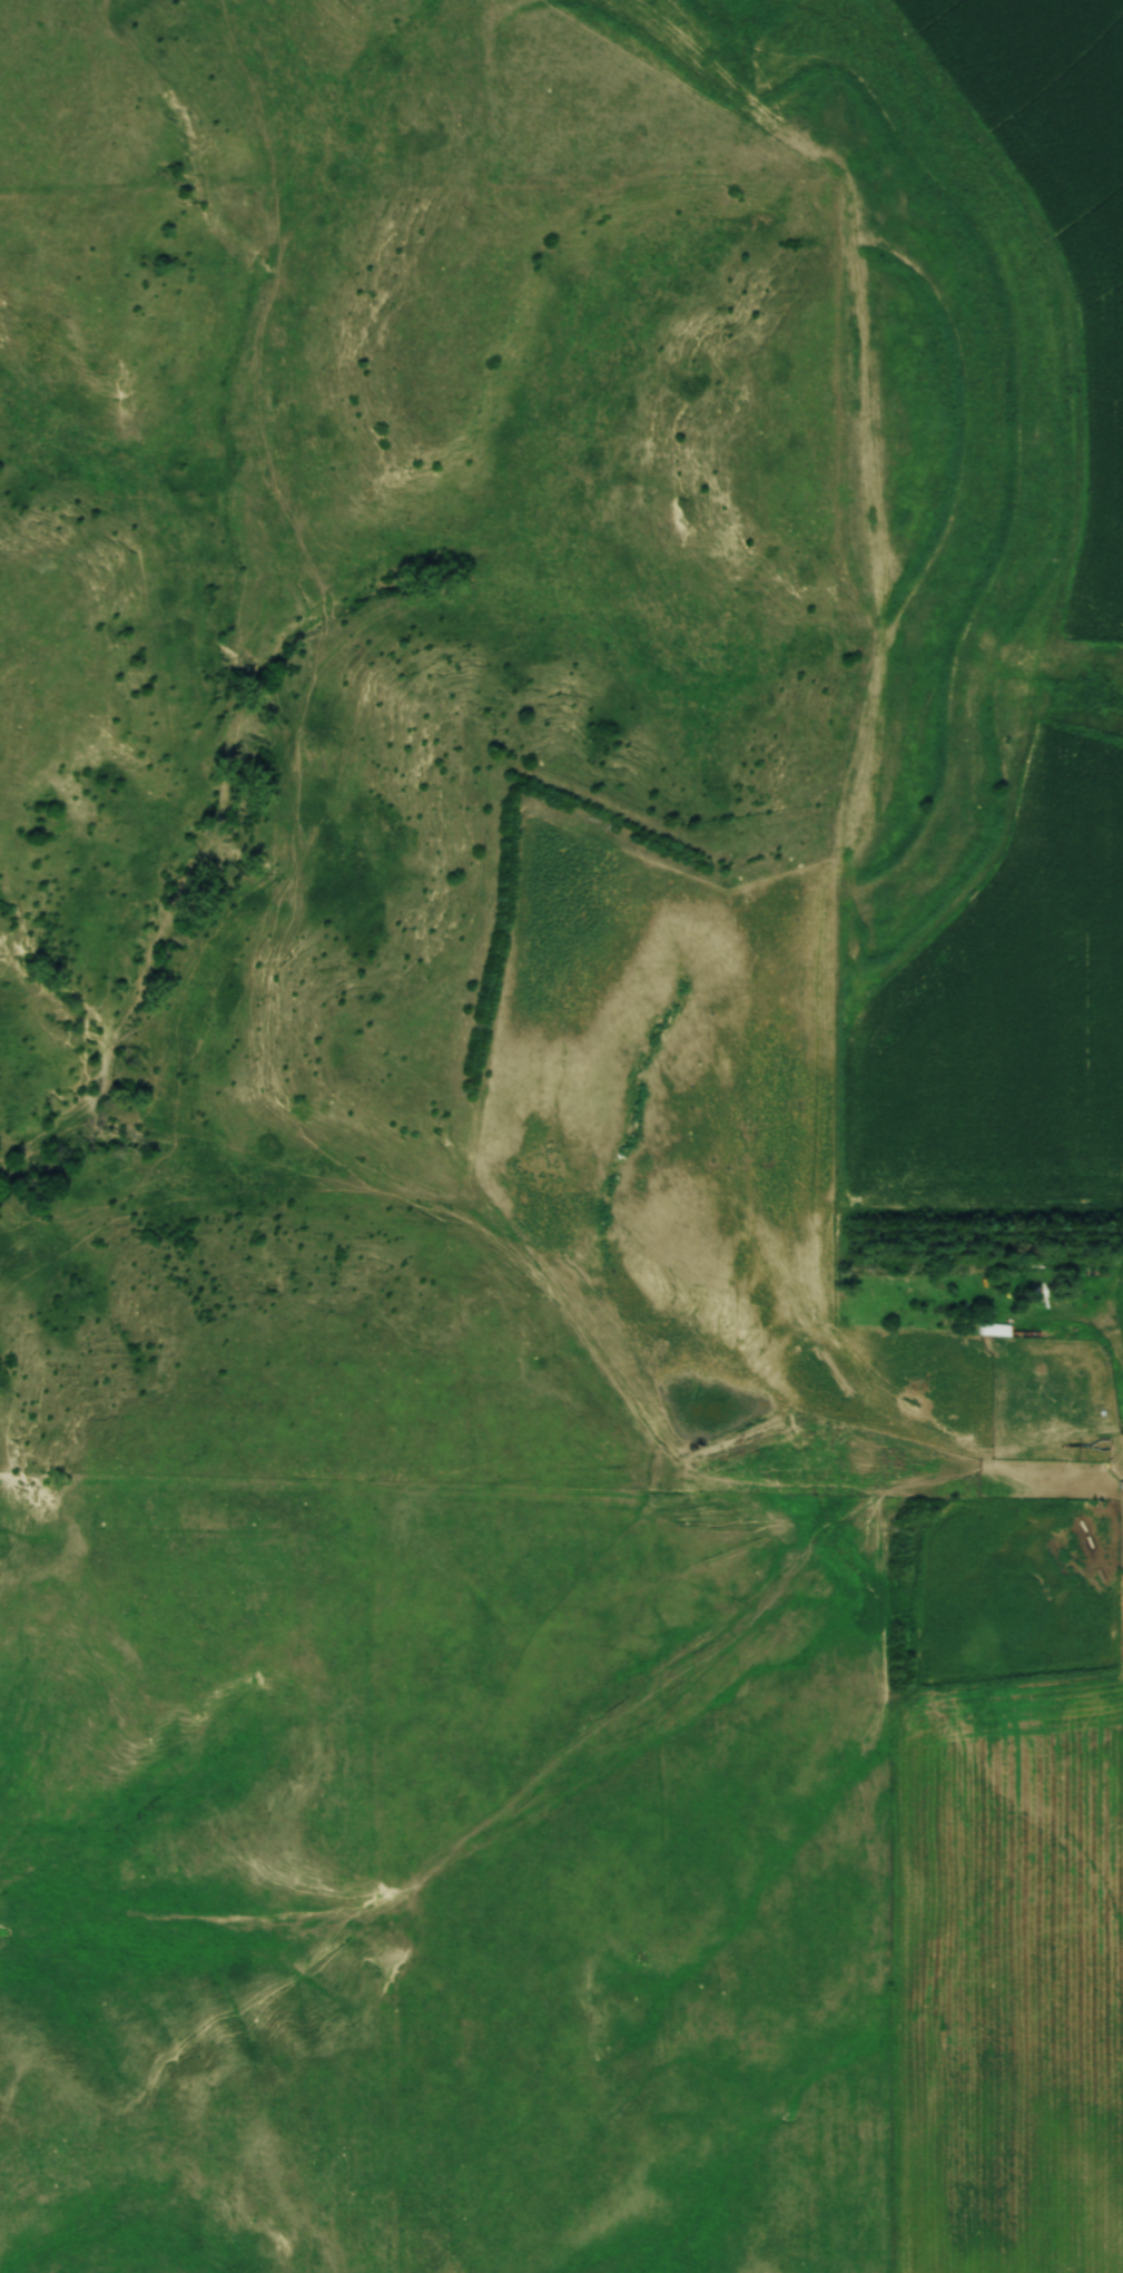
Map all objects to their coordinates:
building: (991, 1330)

